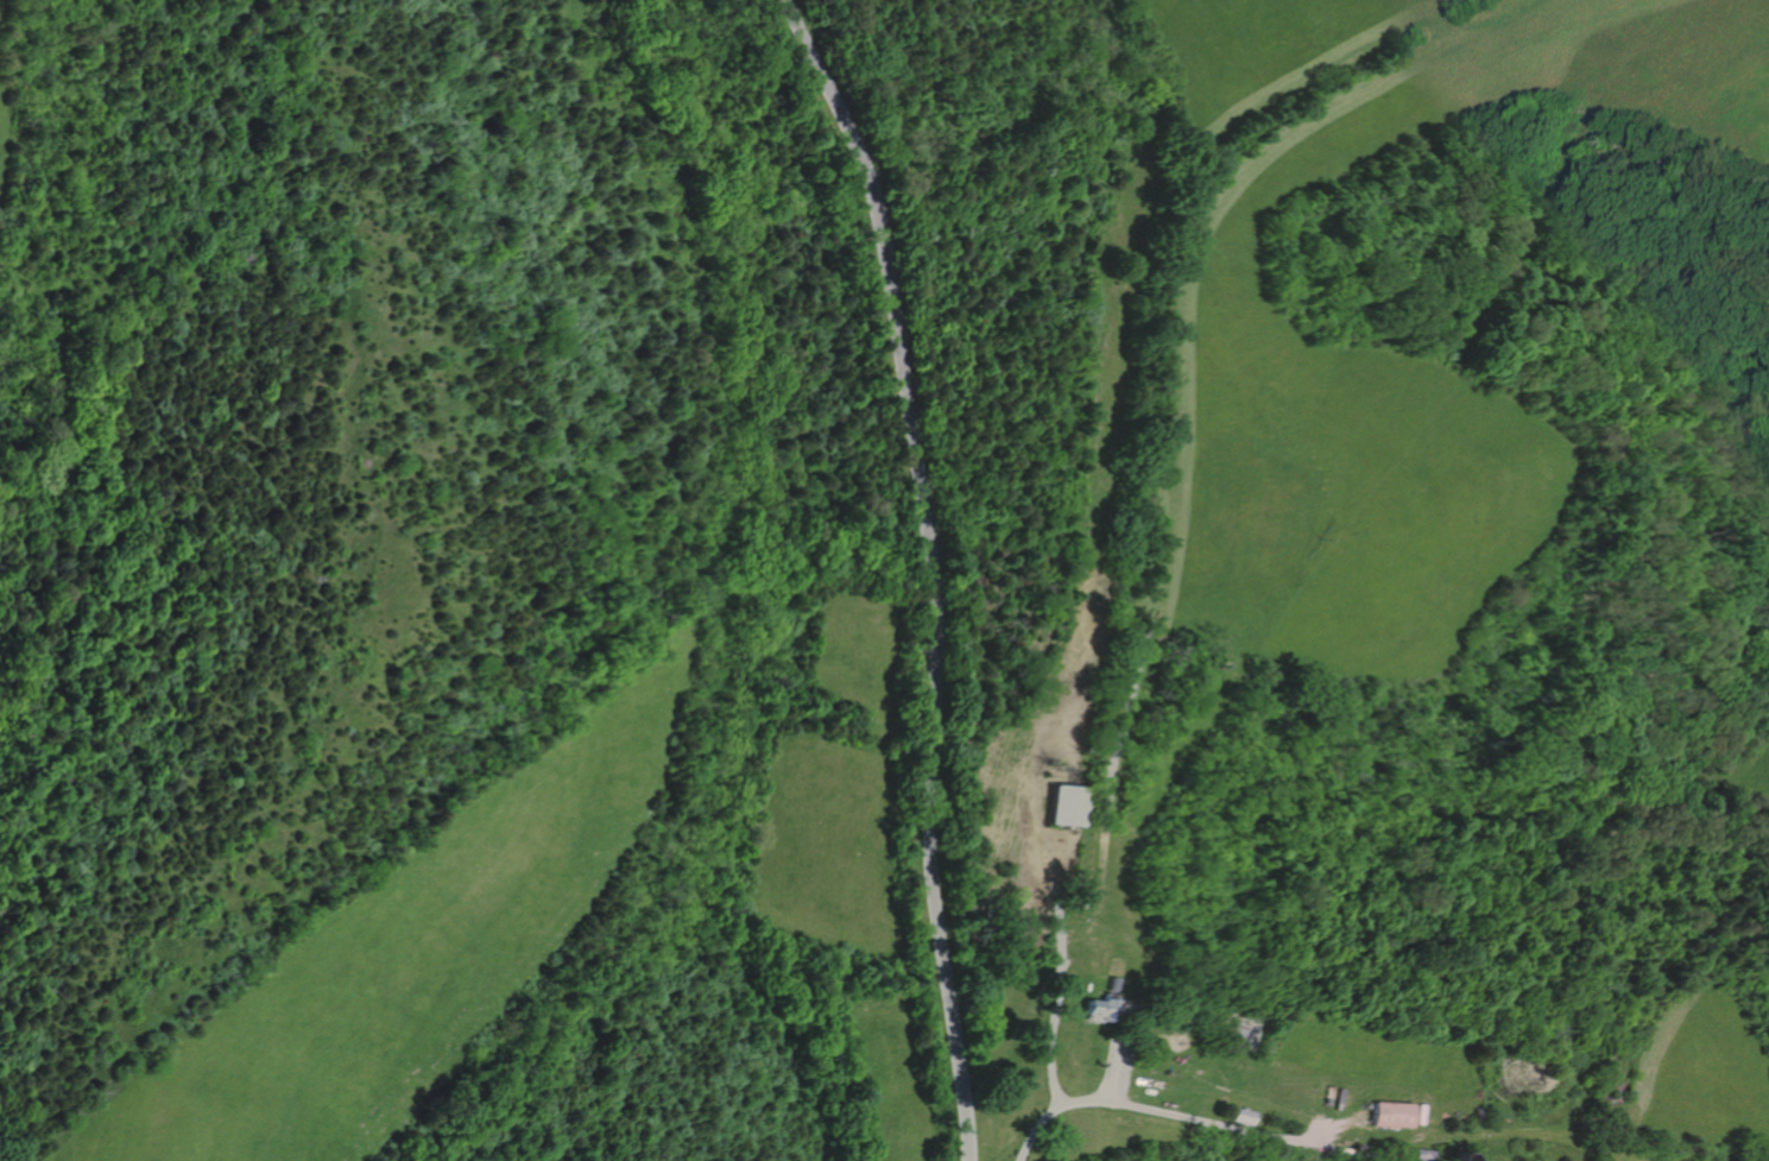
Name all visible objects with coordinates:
road: (1179, 415)
road: (937, 569)
building: (1062, 806)
building: (1110, 984)
building: (1097, 1009)
building: (1231, 1037)
road: (1050, 1050)
road: (1111, 1068)
building: (1389, 1112)
road: (1177, 1115)
building: (1242, 1115)
building: (1420, 1154)

